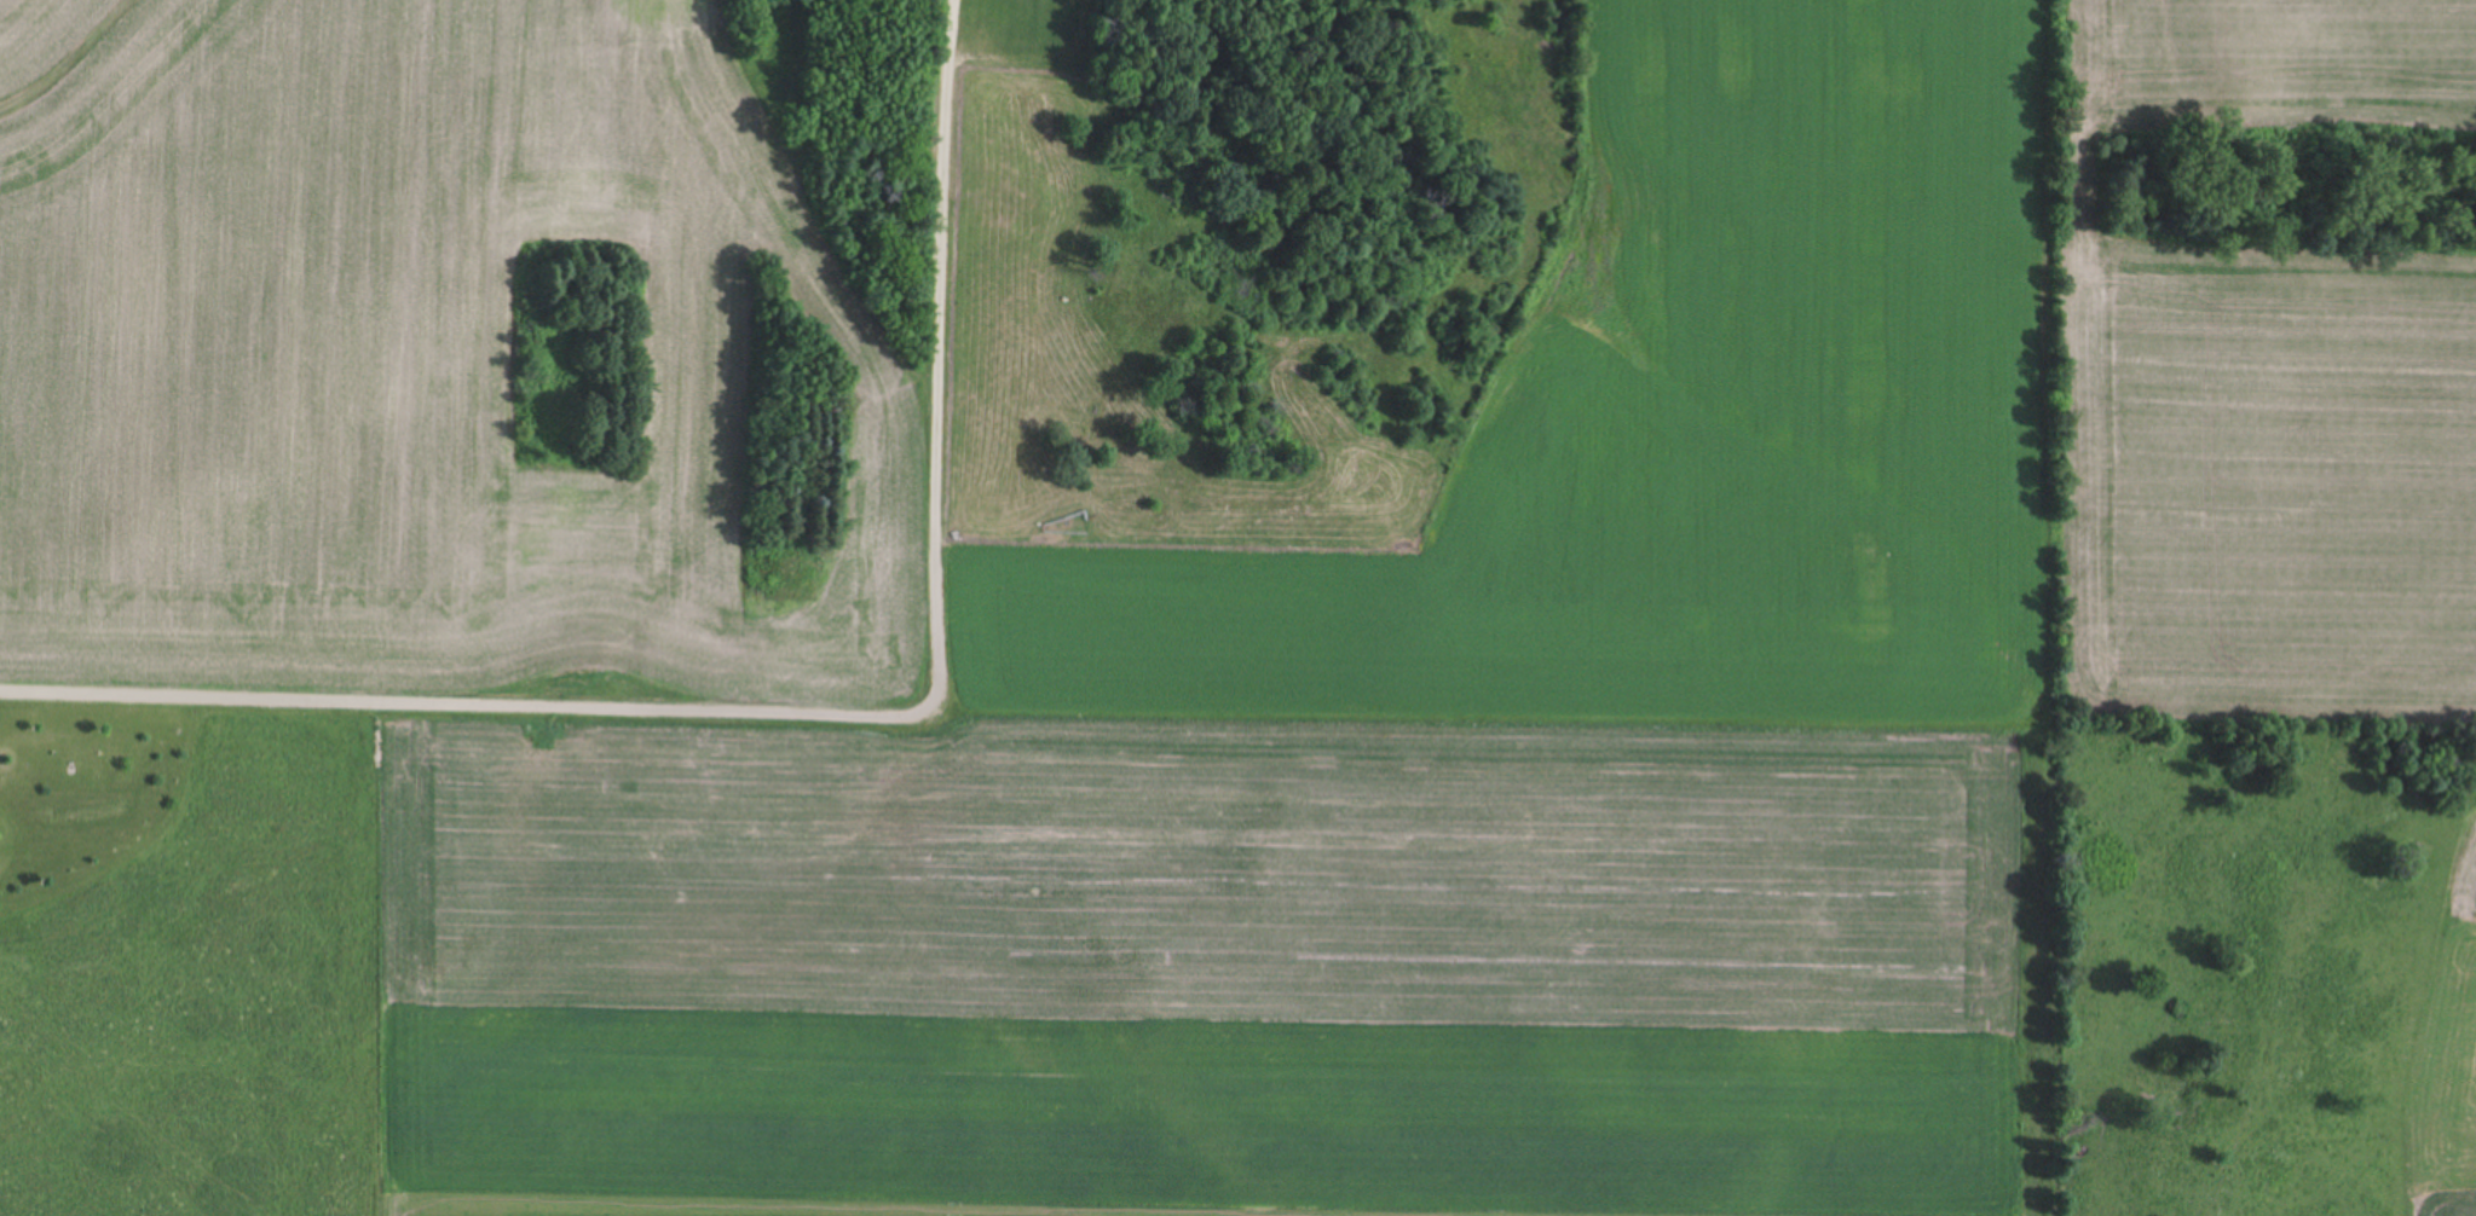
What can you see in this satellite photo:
road: (821, 713)
building: (221, 775)

